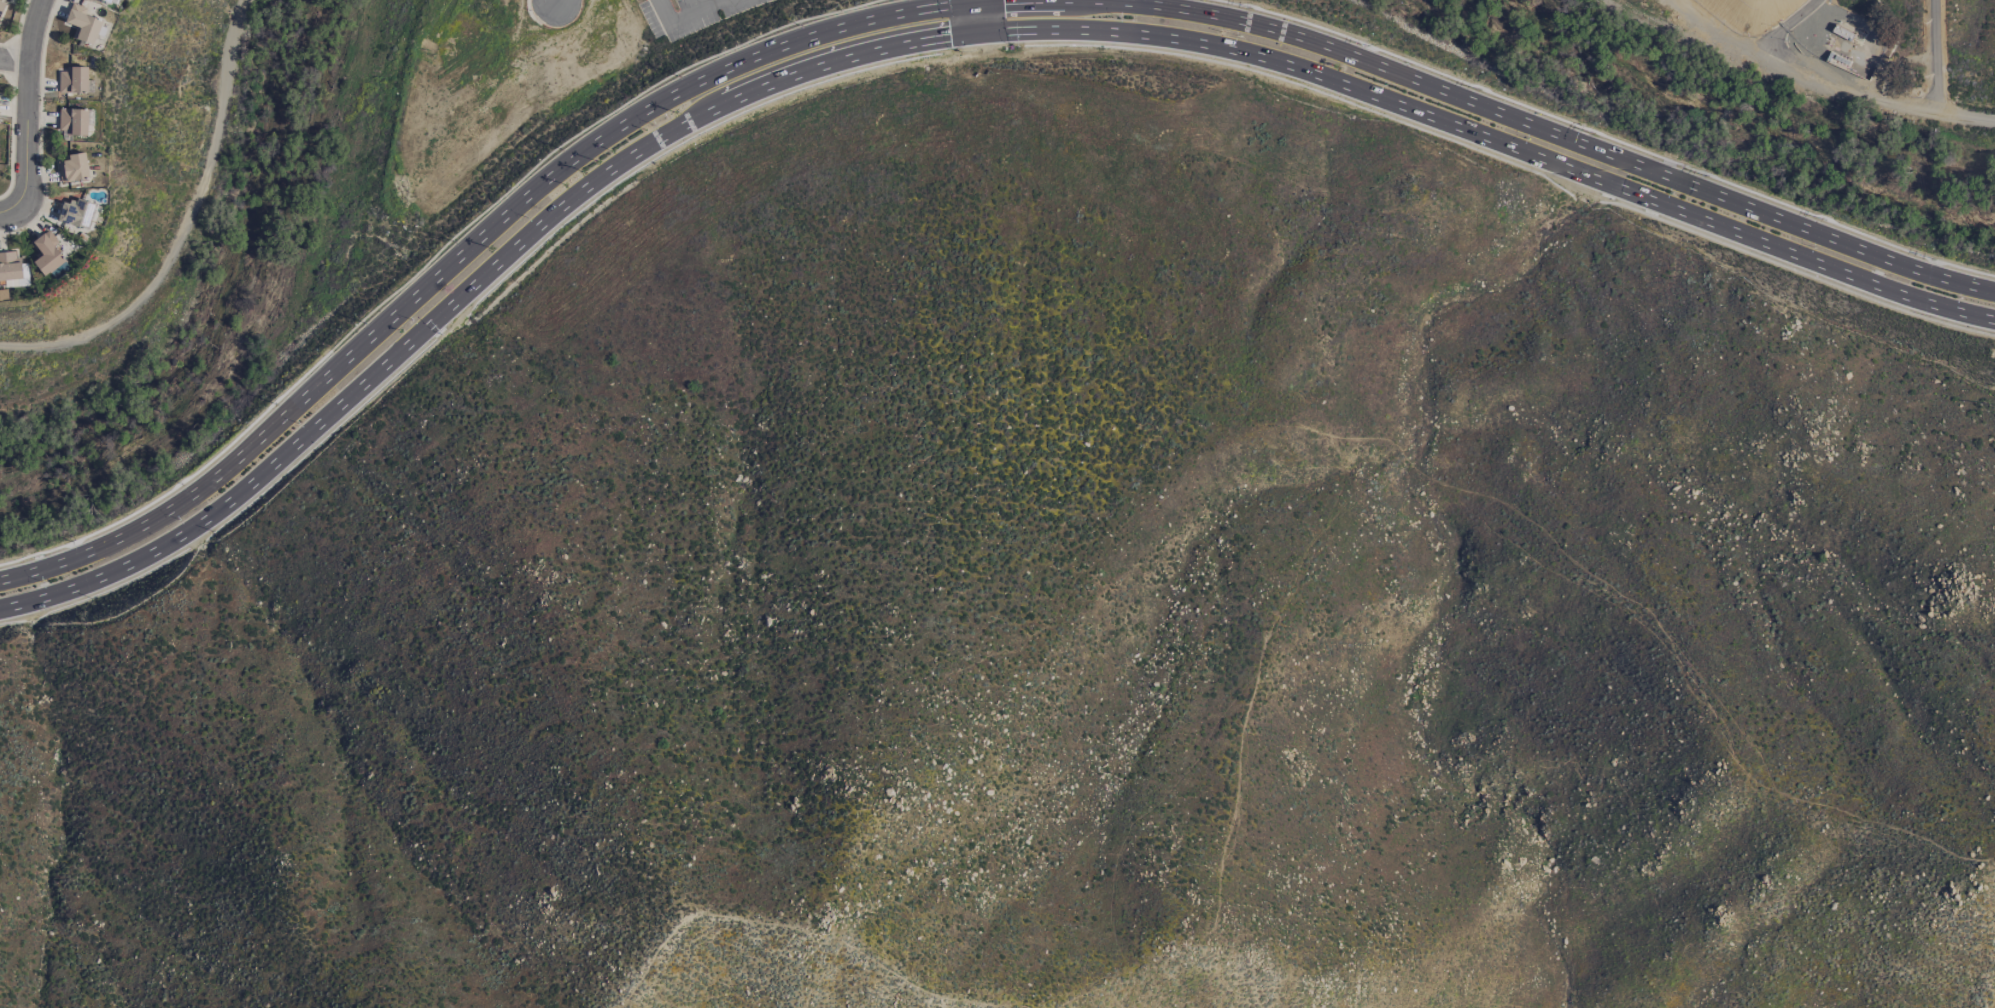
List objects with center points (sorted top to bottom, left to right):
building: (106, 1)
building: (1, 3)
traffic signals: (977, 5)
road: (931, 9)
road: (978, 14)
road: (684, 15)
building: (82, 24)
road: (1786, 26)
traffic signals: (982, 29)
road: (932, 35)
road: (1936, 58)
road: (15, 62)
road: (1770, 63)
building: (72, 80)
road: (31, 105)
road: (1936, 116)
building: (73, 122)
river: (1737, 126)
road: (1601, 135)
building: (73, 167)
road: (8, 212)
building: (76, 213)
road: (185, 230)
building: (46, 255)
road: (427, 261)
building: (9, 265)
river: (238, 302)

